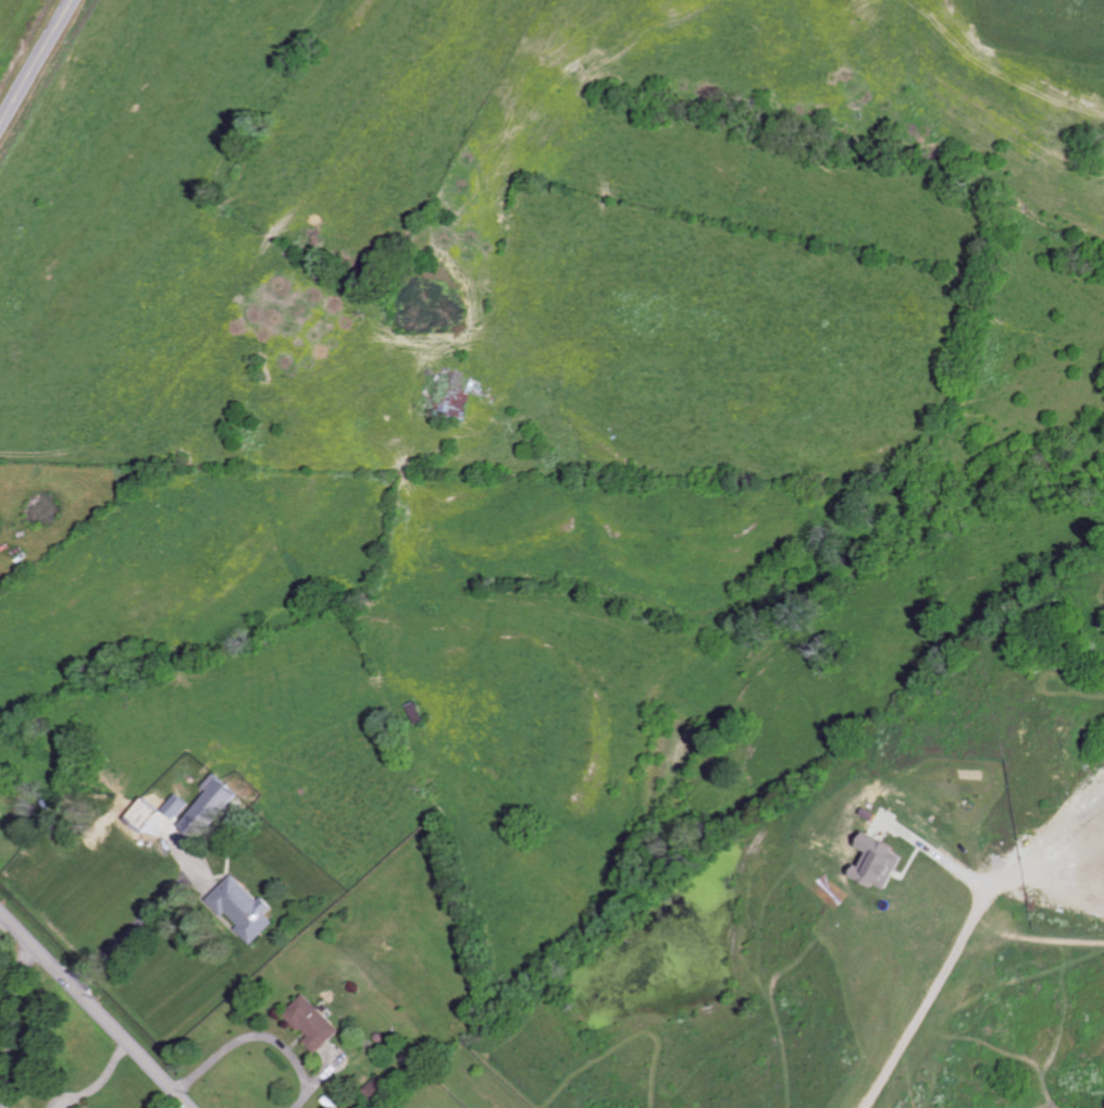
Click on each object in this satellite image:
road: (36, 62)
building: (178, 807)
building: (211, 807)
building: (1, 813)
building: (880, 862)
building: (245, 908)
road: (123, 931)
road: (947, 964)
road: (95, 1010)
building: (313, 1023)
road: (14, 1025)
road: (255, 1034)
road: (100, 1081)
building: (379, 1088)

